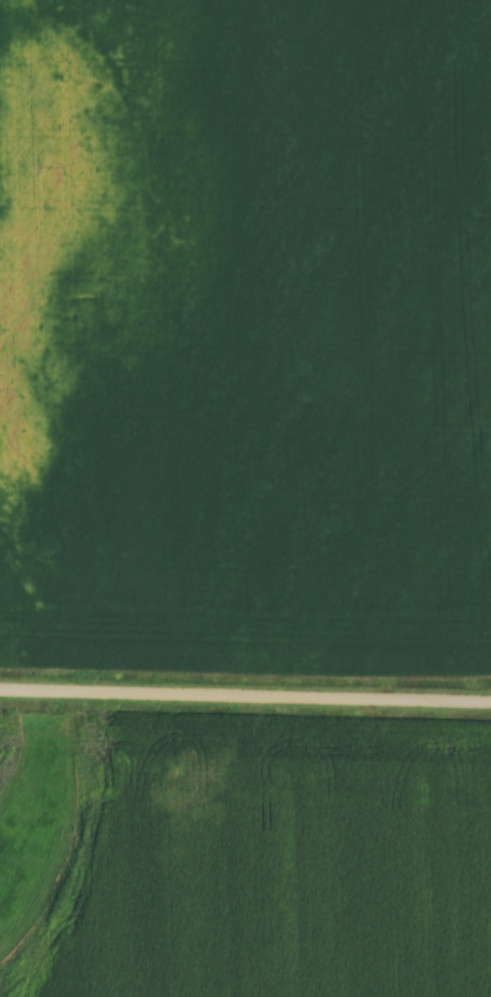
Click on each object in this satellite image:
road: (245, 694)

